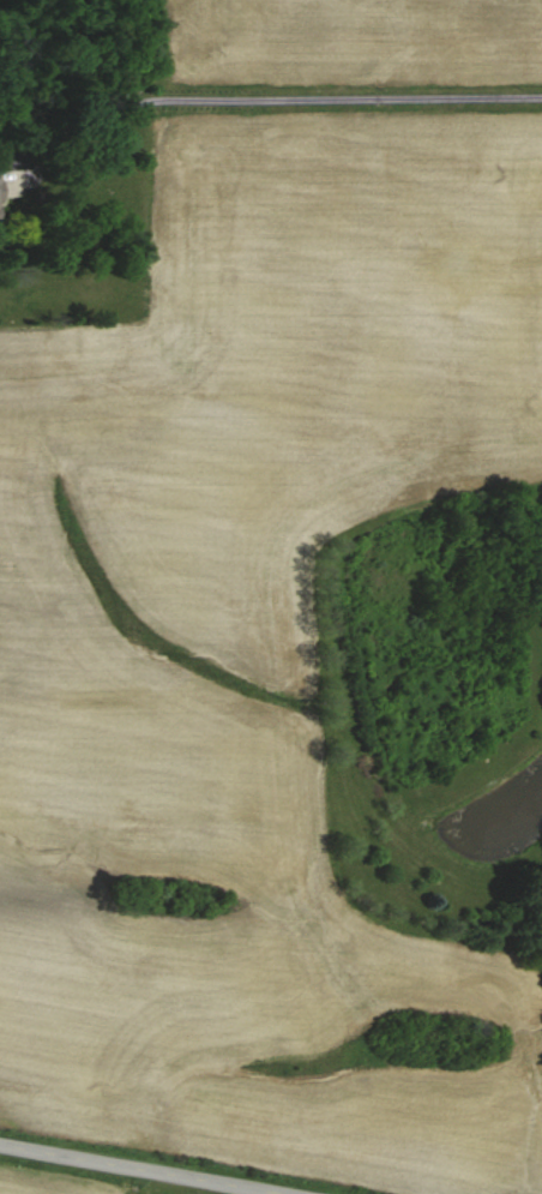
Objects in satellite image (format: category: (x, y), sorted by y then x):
road: (287, 100)
road: (137, 1169)

